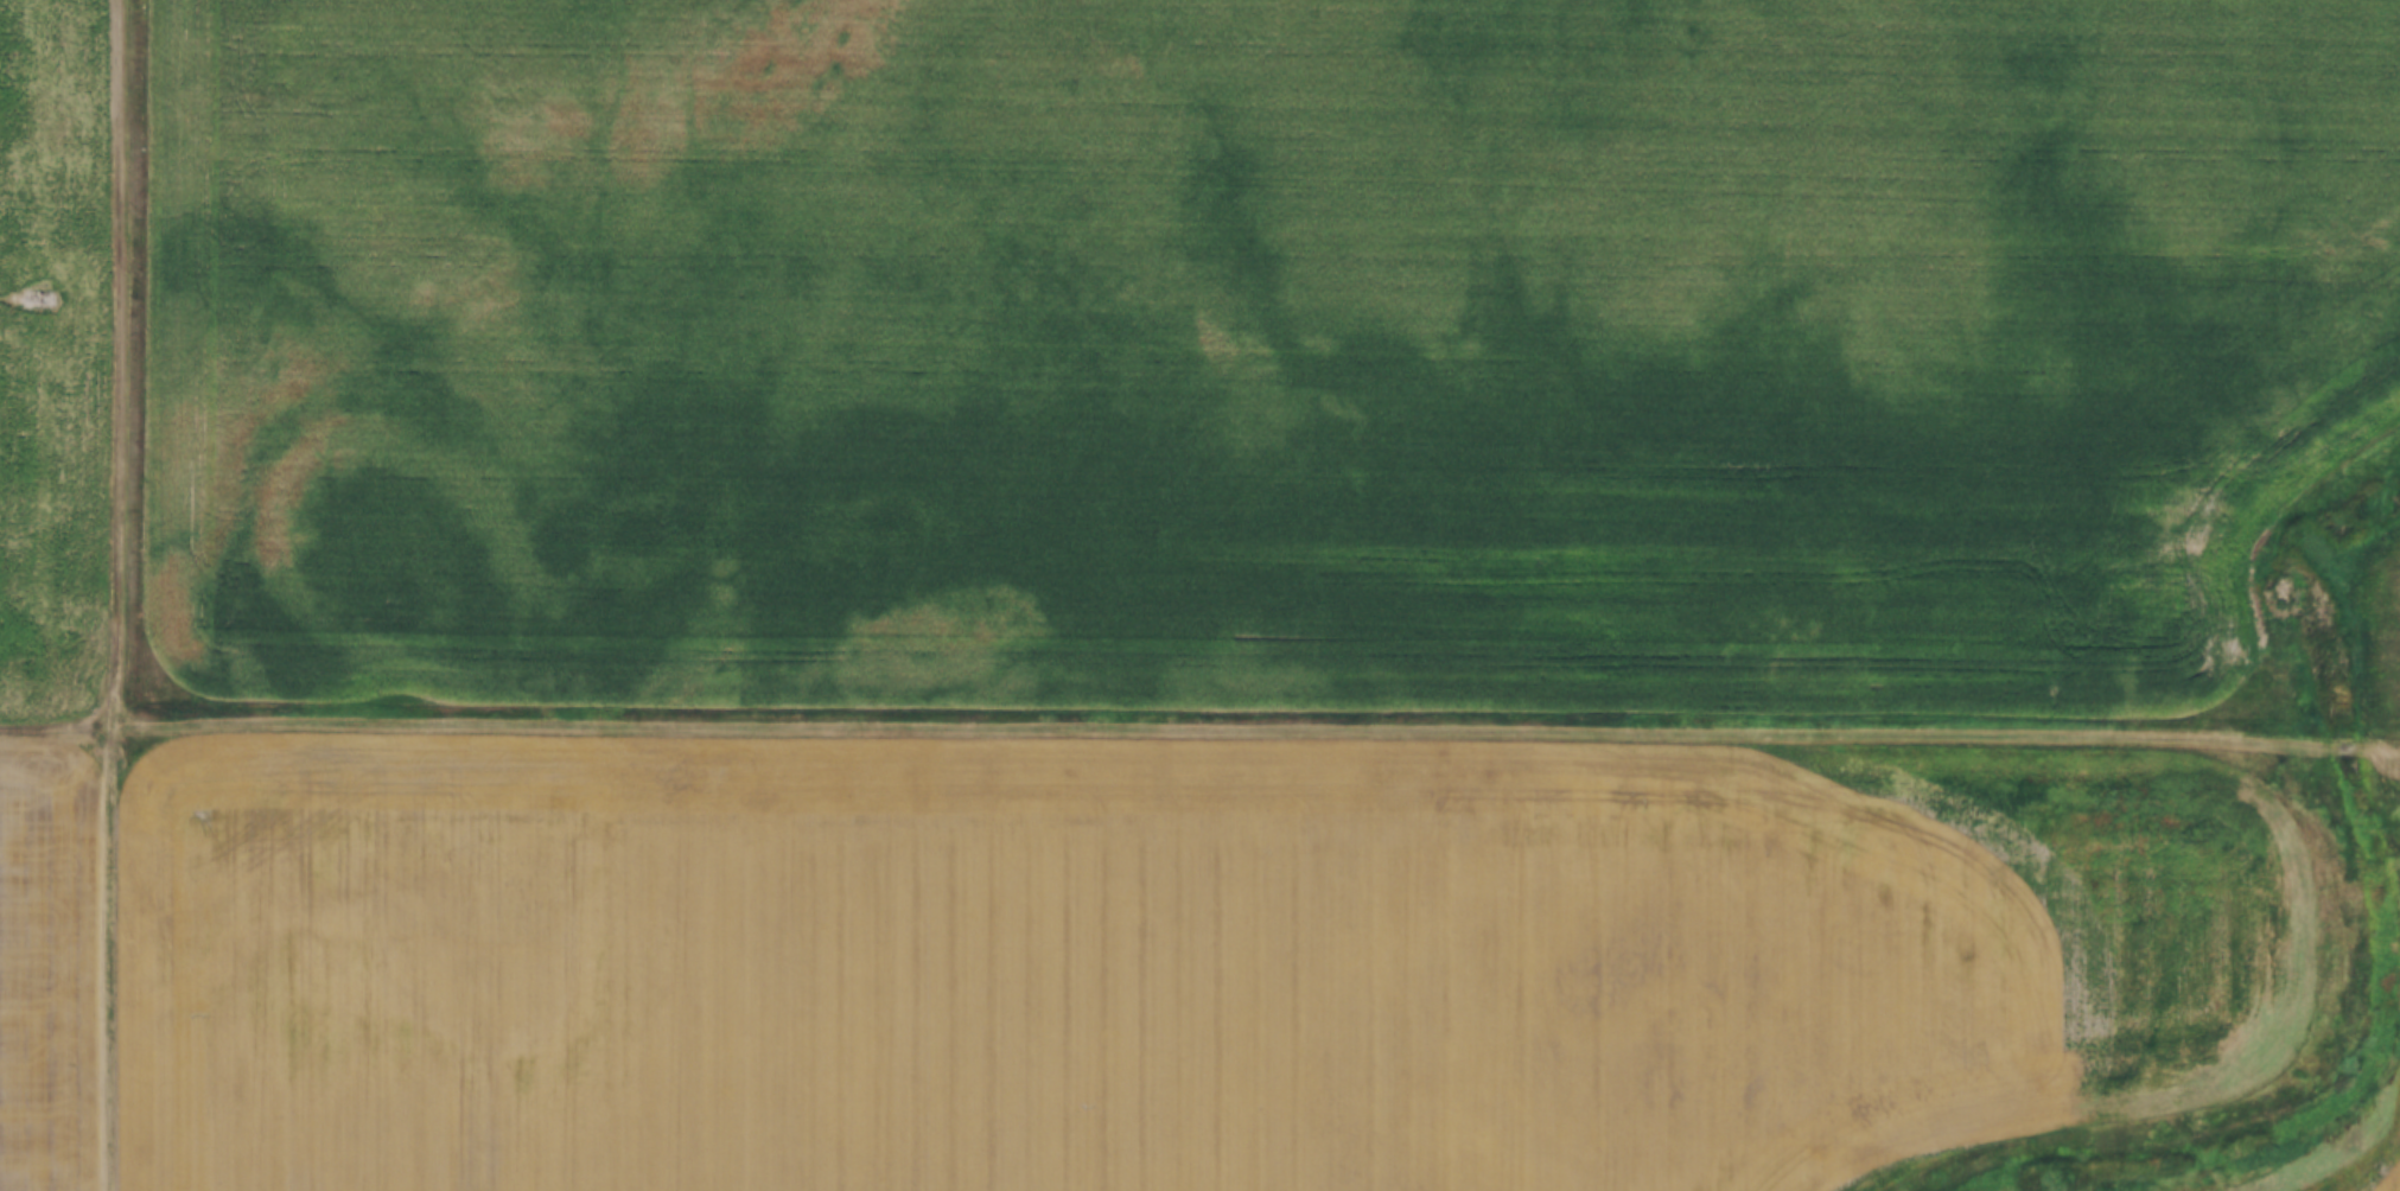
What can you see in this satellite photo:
road: (130, 595)
road: (1199, 725)

